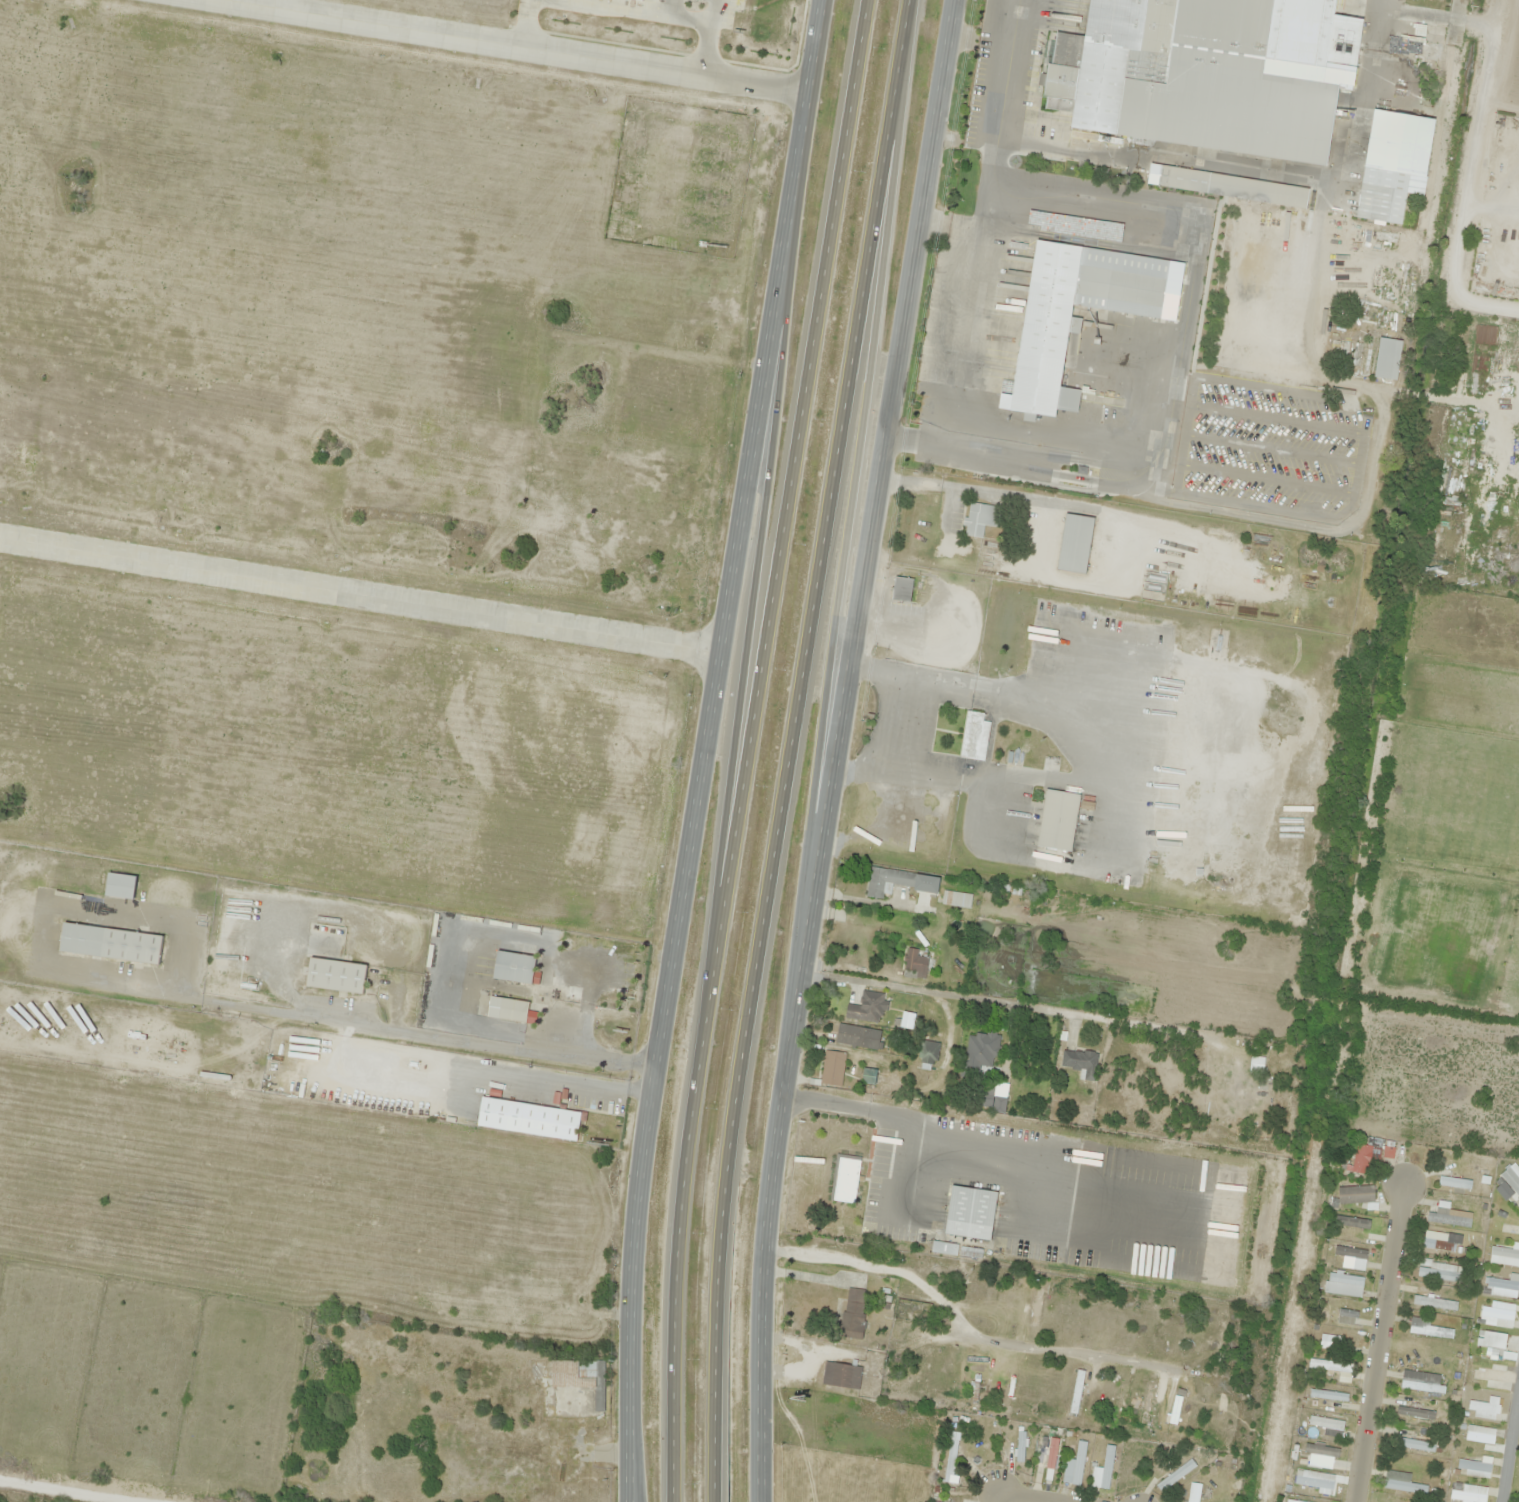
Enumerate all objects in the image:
building: (643, 0)
building: (1434, 42)
road: (534, 44)
building: (1188, 79)
building: (1228, 185)
building: (1066, 321)
building: (1387, 358)
road: (856, 476)
building: (981, 518)
building: (1075, 543)
building: (902, 589)
road: (361, 594)
road: (756, 596)
building: (971, 735)
road: (705, 748)
road: (835, 748)
road: (753, 749)
road: (792, 749)
building: (1058, 820)
building: (888, 881)
building: (120, 886)
building: (111, 944)
building: (915, 964)
building: (514, 967)
building: (336, 976)
building: (867, 1007)
building: (508, 1009)
building: (858, 1037)
building: (981, 1050)
building: (928, 1052)
building: (1081, 1062)
building: (832, 1068)
building: (869, 1076)
building: (982, 1096)
building: (530, 1119)
building: (1361, 1158)
building: (1511, 1177)
building: (845, 1178)
building: (1454, 1182)
building: (1354, 1193)
building: (1448, 1216)
building: (1352, 1221)
building: (1441, 1241)
building: (1350, 1251)
building: (1504, 1256)
building: (1439, 1274)
building: (1344, 1284)
building: (1501, 1286)
building: (1434, 1303)
building: (1348, 1313)
building: (854, 1314)
building: (1497, 1314)
building: (1122, 1321)
building: (1425, 1328)
building: (1334, 1339)
building: (1491, 1339)
road: (1375, 1341)
building: (1330, 1365)
building: (842, 1375)
building: (581, 1377)
building: (1488, 1377)
building: (1421, 1382)
building: (1328, 1394)
building: (1117, 1396)
building: (1147, 1402)
building: (1172, 1406)
building: (1484, 1408)
building: (1415, 1412)
building: (1328, 1425)
building: (1480, 1434)
building: (1412, 1443)
building: (1020, 1446)
road: (1510, 1446)
building: (1322, 1450)
building: (950, 1460)
building: (1075, 1466)
building: (1474, 1467)
building: (1103, 1470)
building: (1175, 1475)
building: (1402, 1483)
building: (1193, 1492)
building: (1468, 1494)
road: (1000, 1498)
road: (1023, 1498)

